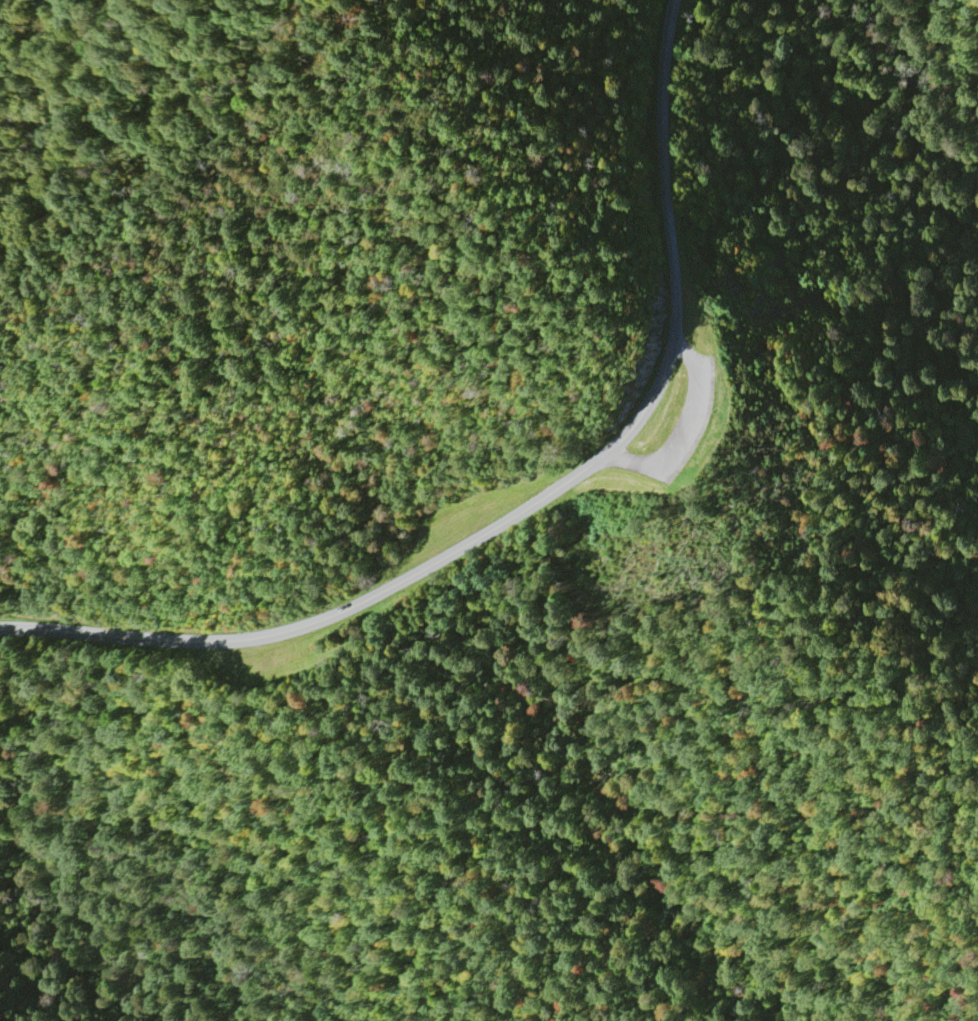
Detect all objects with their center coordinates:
road: (688, 429)
road: (532, 506)

